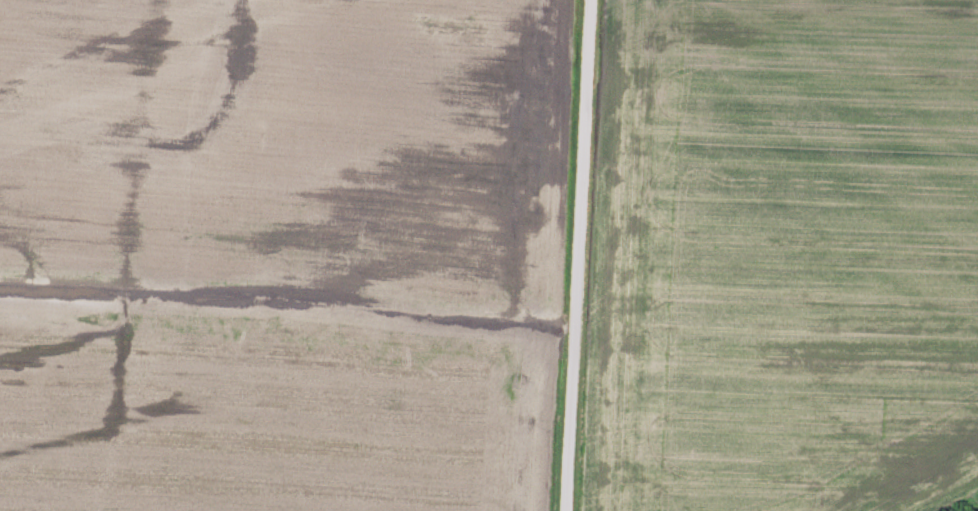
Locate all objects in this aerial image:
road: (577, 255)

